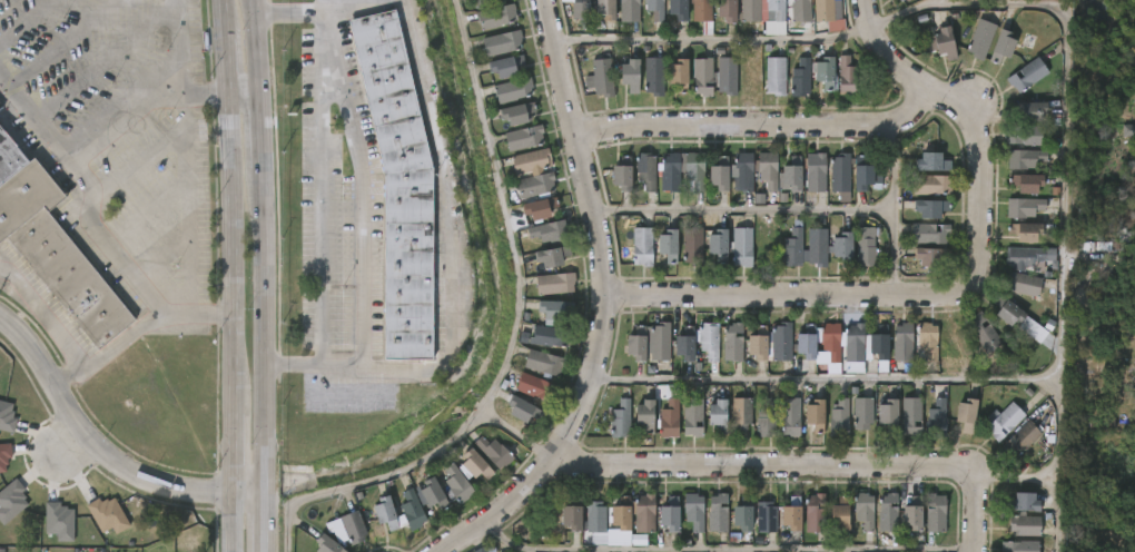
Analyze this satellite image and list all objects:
building: (900, 0)
building: (904, 0)
road: (941, 2)
building: (482, 3)
road: (369, 7)
building: (602, 8)
building: (580, 9)
building: (655, 9)
building: (675, 9)
building: (724, 9)
building: (777, 9)
building: (826, 9)
building: (630, 10)
building: (748, 10)
building: (800, 10)
building: (703, 13)
building: (496, 17)
building: (981, 39)
road: (717, 41)
road: (66, 42)
building: (501, 42)
building: (944, 43)
road: (258, 46)
building: (1005, 46)
road: (174, 47)
building: (503, 68)
building: (827, 72)
building: (1028, 73)
building: (633, 75)
building: (654, 76)
building: (681, 76)
building: (704, 76)
building: (728, 76)
building: (777, 76)
building: (848, 76)
building: (601, 77)
building: (801, 78)
building: (512, 90)
road: (157, 98)
road: (1065, 98)
building: (0, 107)
building: (1033, 110)
building: (516, 115)
road: (764, 124)
road: (263, 130)
road: (974, 134)
building: (1025, 135)
building: (525, 137)
building: (8, 156)
building: (1025, 158)
building: (532, 161)
building: (935, 162)
building: (695, 170)
building: (769, 170)
building: (647, 171)
building: (743, 171)
building: (623, 172)
building: (671, 172)
building: (815, 172)
building: (838, 172)
building: (862, 174)
building: (720, 177)
building: (794, 177)
building: (1030, 183)
road: (362, 184)
building: (398, 184)
building: (536, 186)
building: (932, 186)
building: (23, 195)
road: (894, 207)
building: (1025, 207)
building: (934, 208)
building: (539, 210)
road: (749, 210)
road: (455, 223)
road: (87, 225)
building: (1027, 231)
building: (545, 233)
building: (931, 234)
building: (670, 245)
building: (720, 245)
building: (868, 245)
building: (692, 246)
building: (742, 246)
building: (768, 246)
building: (642, 247)
building: (793, 247)
building: (818, 248)
building: (845, 248)
building: (935, 256)
building: (1030, 256)
building: (553, 257)
road: (230, 275)
building: (70, 278)
building: (556, 284)
building: (1024, 284)
road: (780, 292)
road: (612, 304)
building: (554, 310)
building: (1021, 322)
road: (50, 328)
road: (267, 328)
building: (985, 333)
road: (516, 336)
building: (553, 337)
building: (929, 338)
building: (709, 341)
building: (832, 341)
building: (904, 341)
building: (661, 342)
building: (782, 342)
building: (957, 342)
building: (733, 343)
building: (761, 343)
building: (855, 343)
road: (117, 344)
building: (687, 344)
building: (638, 348)
building: (882, 348)
building: (809, 352)
building: (543, 364)
road: (879, 379)
building: (532, 386)
building: (516, 408)
building: (671, 412)
building: (741, 414)
building: (7, 415)
building: (817, 415)
building: (851, 415)
building: (891, 415)
building: (968, 415)
building: (647, 416)
building: (720, 416)
building: (912, 416)
building: (693, 417)
building: (791, 417)
building: (936, 417)
building: (621, 418)
building: (767, 418)
building: (1006, 421)
building: (1027, 434)
road: (68, 447)
building: (494, 451)
road: (105, 452)
building: (3, 459)
building: (477, 463)
road: (802, 467)
road: (1048, 480)
building: (457, 481)
building: (434, 492)
building: (1026, 500)
building: (11, 501)
building: (412, 507)
building: (695, 510)
building: (866, 510)
building: (624, 511)
building: (889, 511)
building: (645, 512)
building: (672, 512)
building: (746, 512)
building: (817, 512)
building: (842, 512)
building: (916, 512)
building: (936, 512)
building: (385, 513)
building: (107, 515)
building: (574, 515)
building: (596, 515)
building: (718, 515)
building: (792, 515)
building: (768, 516)
road: (270, 521)
building: (59, 522)
building: (1026, 524)
building: (354, 525)
building: (337, 531)
building: (328, 543)
building: (1023, 546)
building: (478, 550)
road: (724, 550)

